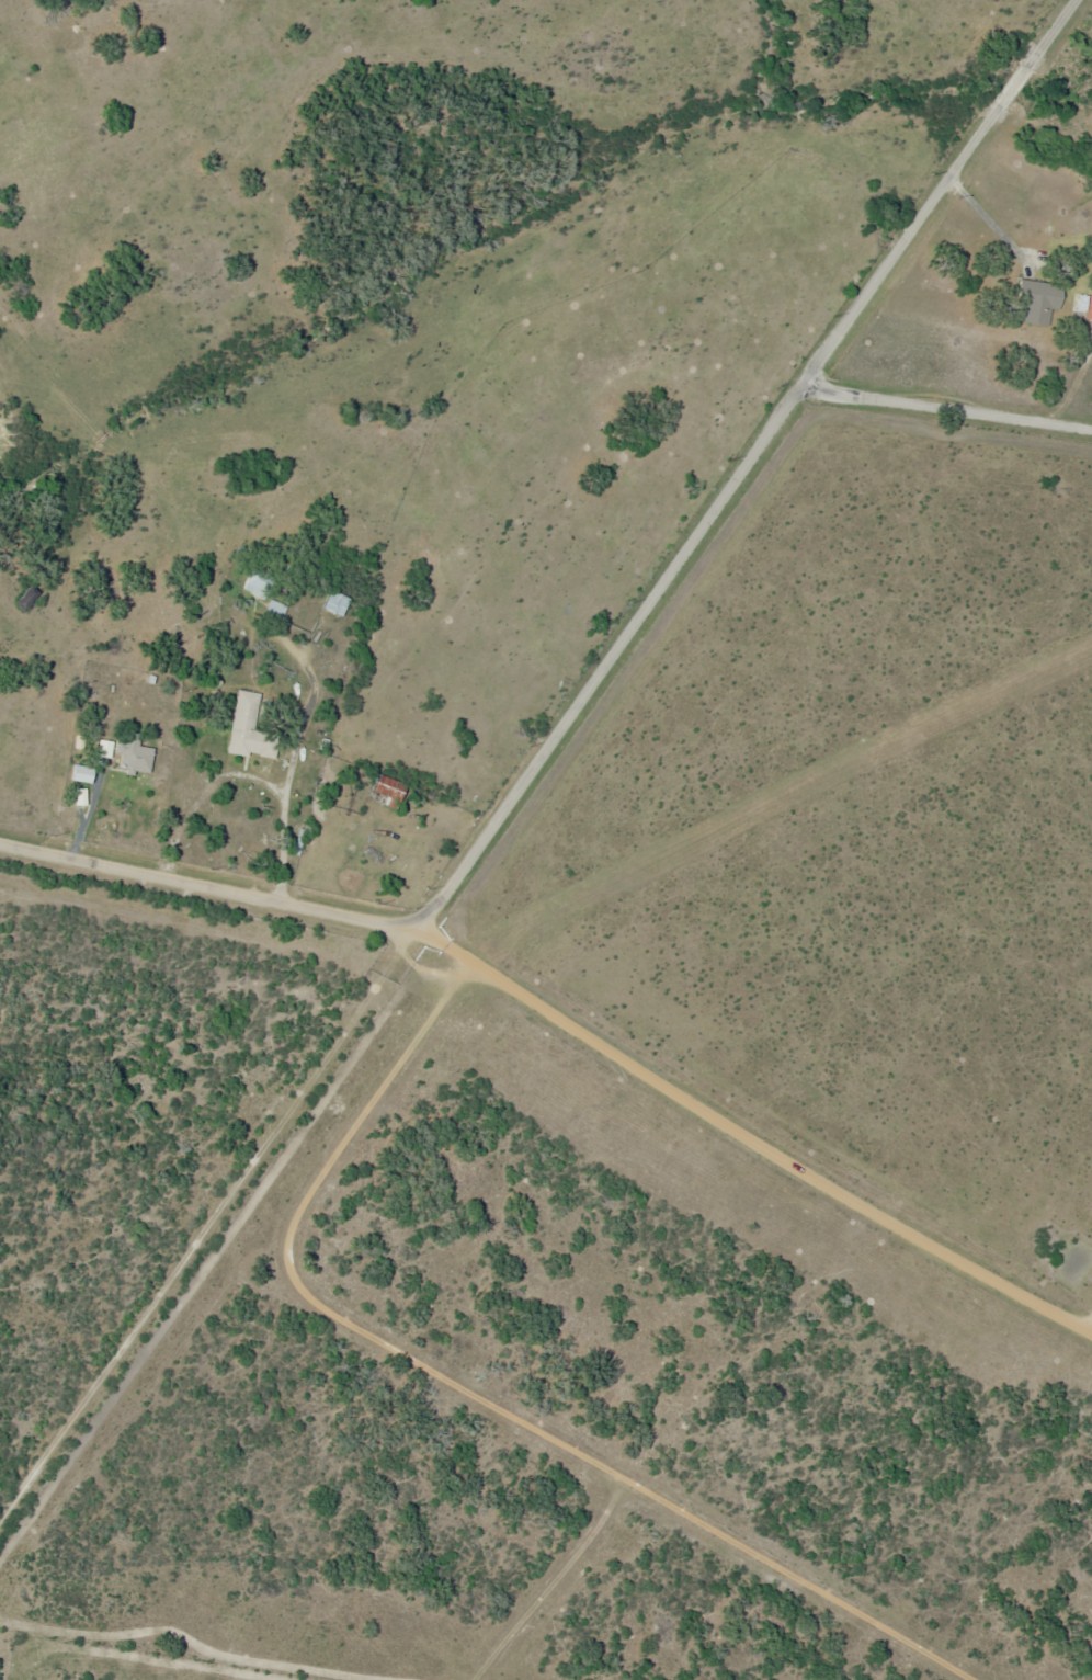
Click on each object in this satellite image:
road: (935, 193)
building: (1034, 298)
building: (1076, 304)
road: (946, 410)
building: (251, 586)
building: (339, 604)
building: (328, 605)
building: (277, 610)
road: (607, 658)
building: (248, 725)
building: (317, 745)
building: (98, 750)
building: (107, 751)
building: (129, 757)
building: (75, 771)
building: (90, 775)
building: (376, 792)
road: (206, 885)
road: (753, 1133)
road: (217, 1251)

